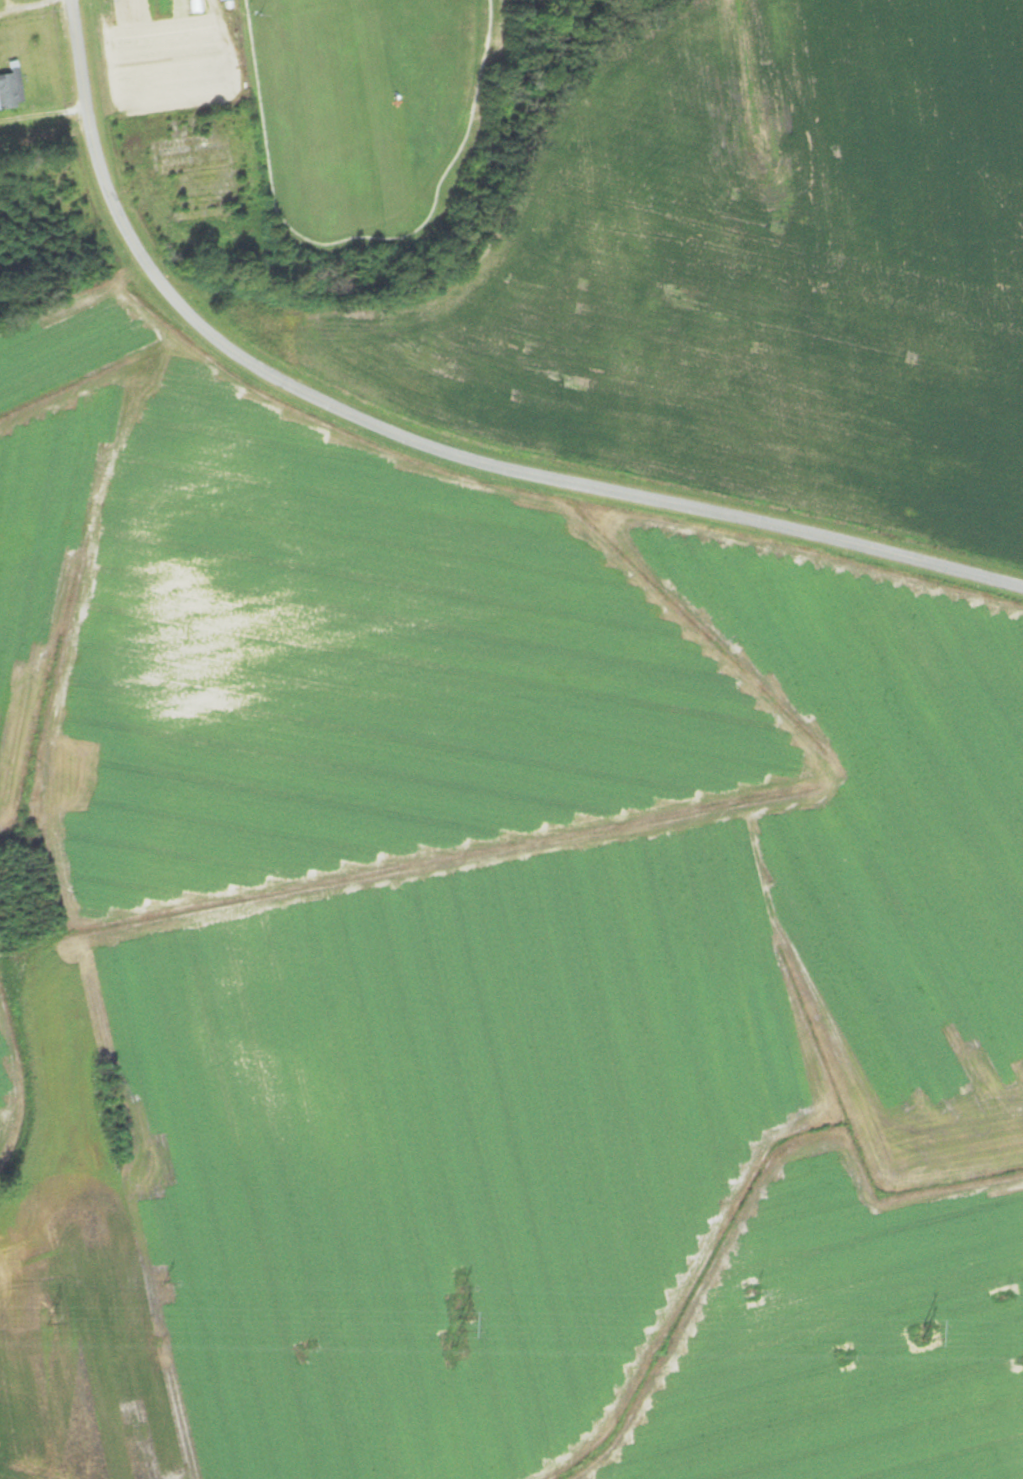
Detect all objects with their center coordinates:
building: (7, 91)
road: (423, 445)
power tower: (46, 1318)
power tower: (449, 1326)
power tower: (916, 1333)

